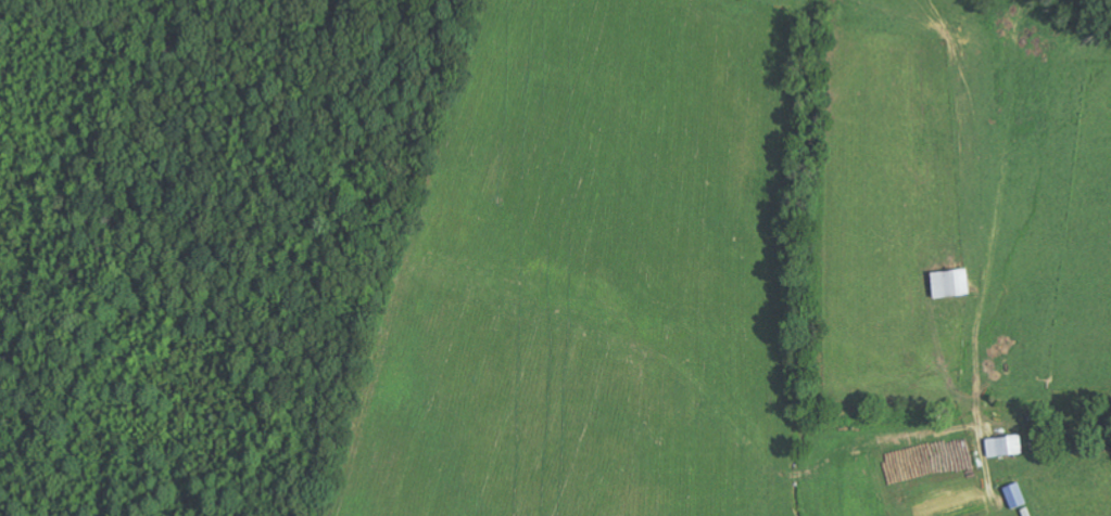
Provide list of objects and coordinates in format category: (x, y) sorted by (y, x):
building: (949, 283)
building: (1003, 446)
building: (1014, 495)

